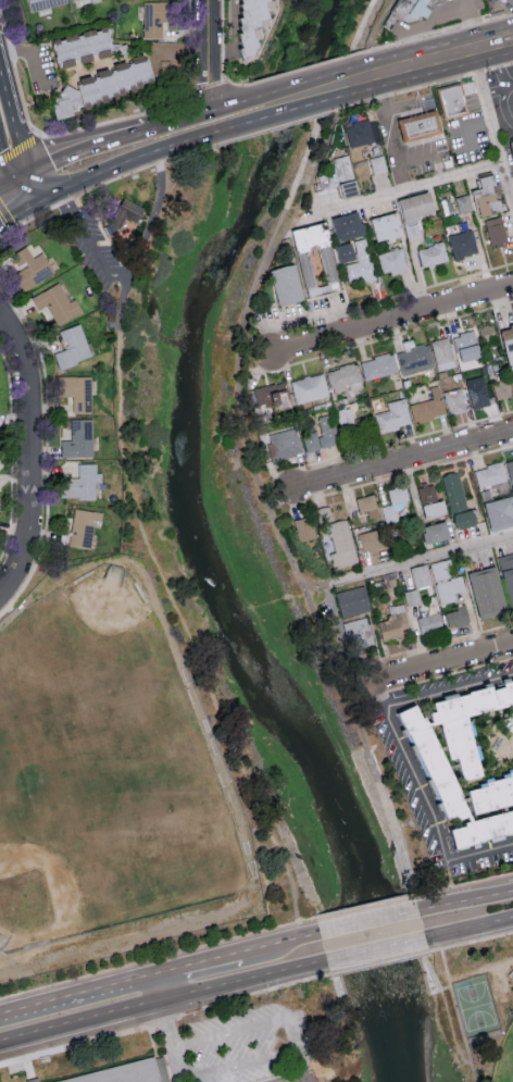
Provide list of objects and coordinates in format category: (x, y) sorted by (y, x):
building: (75, 0)
building: (89, 0)
building: (43, 3)
building: (412, 13)
building: (154, 17)
building: (250, 24)
road: (376, 25)
road: (468, 25)
road: (437, 32)
building: (82, 47)
road: (33, 51)
road: (208, 57)
road: (445, 60)
road: (499, 65)
road: (303, 67)
road: (498, 67)
road: (478, 72)
road: (240, 84)
road: (512, 84)
building: (103, 86)
road: (497, 89)
road: (213, 91)
road: (322, 91)
road: (402, 91)
road: (189, 99)
road: (236, 103)
road: (325, 103)
building: (455, 104)
road: (503, 104)
parking lot: (512, 110)
road: (12, 119)
road: (110, 120)
road: (388, 126)
road: (268, 128)
road: (492, 130)
building: (358, 133)
building: (423, 133)
road: (116, 140)
road: (17, 146)
road: (472, 146)
road: (164, 147)
building: (511, 148)
road: (416, 161)
building: (377, 164)
road: (3, 169)
traffic signals: (28, 171)
road: (312, 173)
road: (17, 174)
building: (338, 177)
traffic signals: (8, 178)
road: (3, 179)
road: (36, 183)
road: (105, 183)
road: (404, 188)
road: (51, 191)
road: (14, 192)
traffic signals: (43, 196)
building: (486, 196)
road: (32, 201)
building: (463, 203)
building: (414, 206)
traffic signals: (21, 207)
road: (13, 211)
building: (125, 211)
road: (151, 214)
road: (2, 217)
road: (7, 217)
building: (347, 226)
building: (385, 226)
building: (495, 231)
road: (7, 232)
road: (87, 236)
building: (462, 244)
parking lot: (92, 246)
building: (343, 252)
building: (431, 254)
building: (391, 261)
building: (360, 263)
building: (29, 269)
building: (328, 269)
building: (285, 284)
road: (395, 296)
building: (55, 302)
road: (391, 318)
road: (262, 331)
building: (486, 333)
road: (383, 337)
road: (245, 340)
building: (73, 346)
building: (465, 346)
building: (508, 346)
building: (441, 353)
building: (414, 359)
building: (378, 365)
building: (345, 377)
building: (309, 388)
building: (501, 389)
building: (78, 391)
building: (477, 394)
building: (271, 396)
road: (45, 398)
building: (453, 400)
building: (428, 407)
building: (392, 415)
building: (349, 421)
building: (326, 430)
road: (411, 437)
building: (78, 439)
building: (310, 440)
building: (284, 444)
road: (10, 453)
road: (28, 455)
road: (402, 458)
building: (510, 469)
road: (413, 471)
building: (489, 474)
building: (80, 482)
road: (263, 500)
road: (280, 500)
building: (456, 500)
building: (429, 502)
building: (393, 503)
building: (367, 505)
building: (499, 512)
building: (323, 513)
river: (197, 518)
building: (84, 527)
building: (303, 528)
building: (434, 533)
building: (371, 539)
building: (341, 543)
road: (423, 558)
road: (28, 573)
building: (420, 575)
building: (508, 575)
building: (447, 581)
road: (317, 585)
building: (486, 592)
building: (411, 597)
building: (352, 600)
road: (174, 605)
building: (455, 617)
building: (428, 623)
building: (392, 624)
building: (358, 635)
road: (447, 641)
road: (446, 661)
road: (439, 675)
road: (356, 697)
road: (379, 699)
road: (406, 756)
building: (470, 760)
park: (121, 796)
road: (404, 860)
road: (464, 882)
road: (405, 885)
road: (466, 899)
road: (364, 906)
road: (368, 921)
road: (474, 925)
road: (429, 935)
road: (471, 941)
road: (279, 943)
road: (375, 948)
road: (157, 957)
road: (197, 963)
road: (379, 963)
road: (243, 982)
road: (157, 988)
road: (76, 993)
road: (453, 1006)
park: (475, 1006)
park: (471, 1015)
road: (164, 1020)
road: (80, 1023)
road: (166, 1025)
road: (245, 1029)
road: (450, 1029)
parking lot: (236, 1044)
park: (503, 1059)
road: (301, 1065)
road: (223, 1067)
road: (26, 1070)
building: (120, 1072)
road: (472, 1073)

